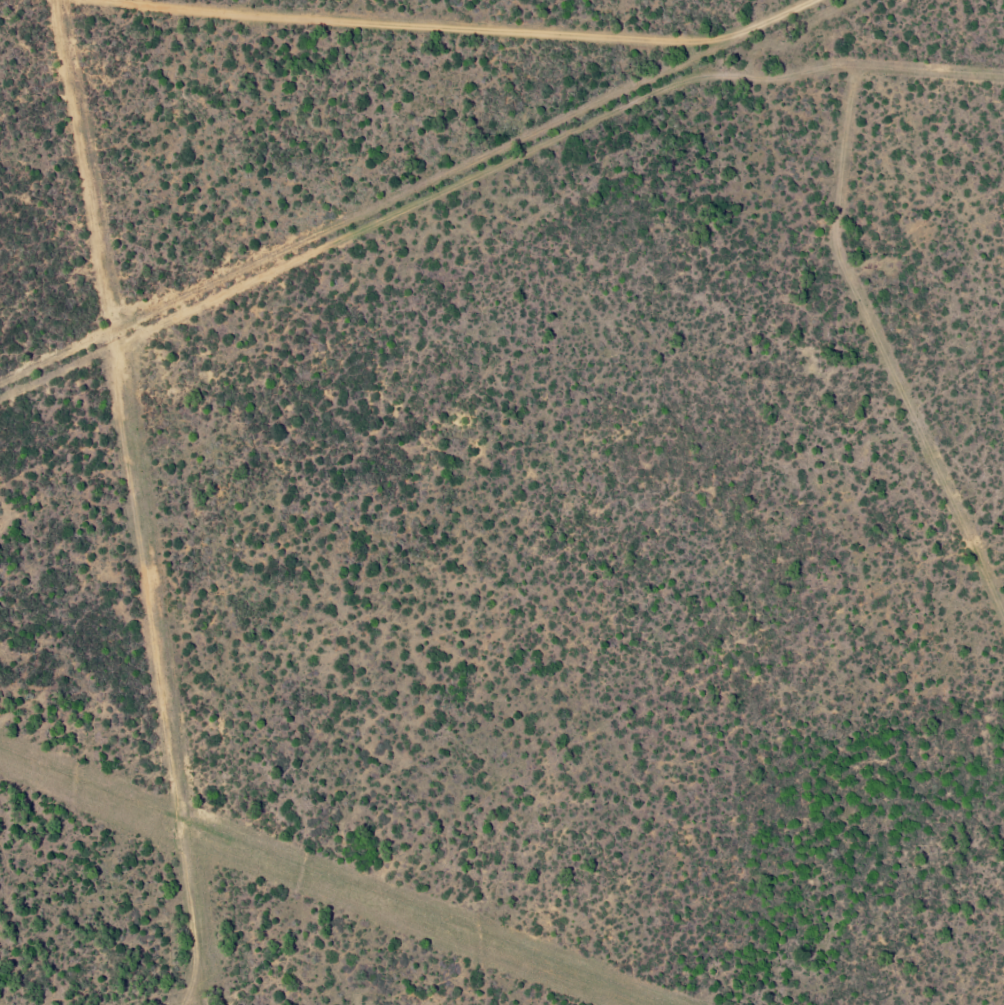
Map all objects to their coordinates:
road: (554, 36)
road: (418, 218)

